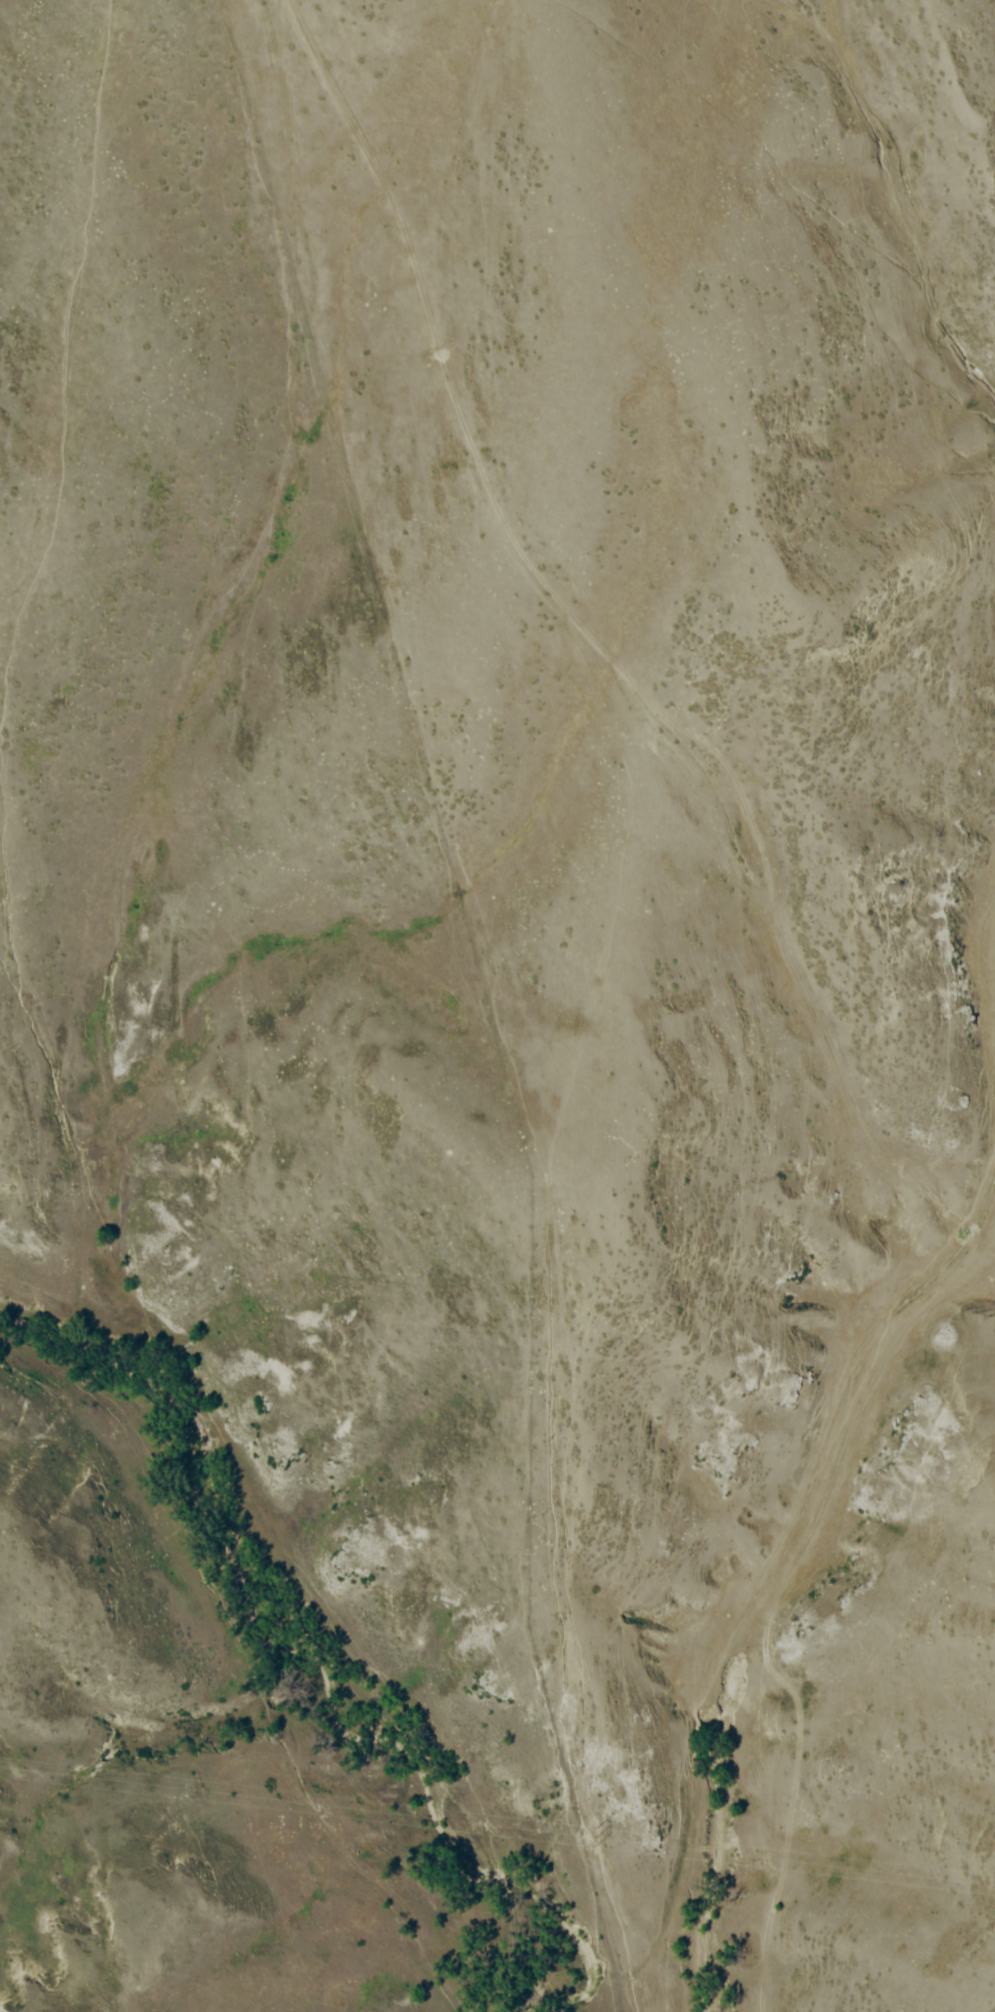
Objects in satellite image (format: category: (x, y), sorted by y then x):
power tower: (595, 1837)

